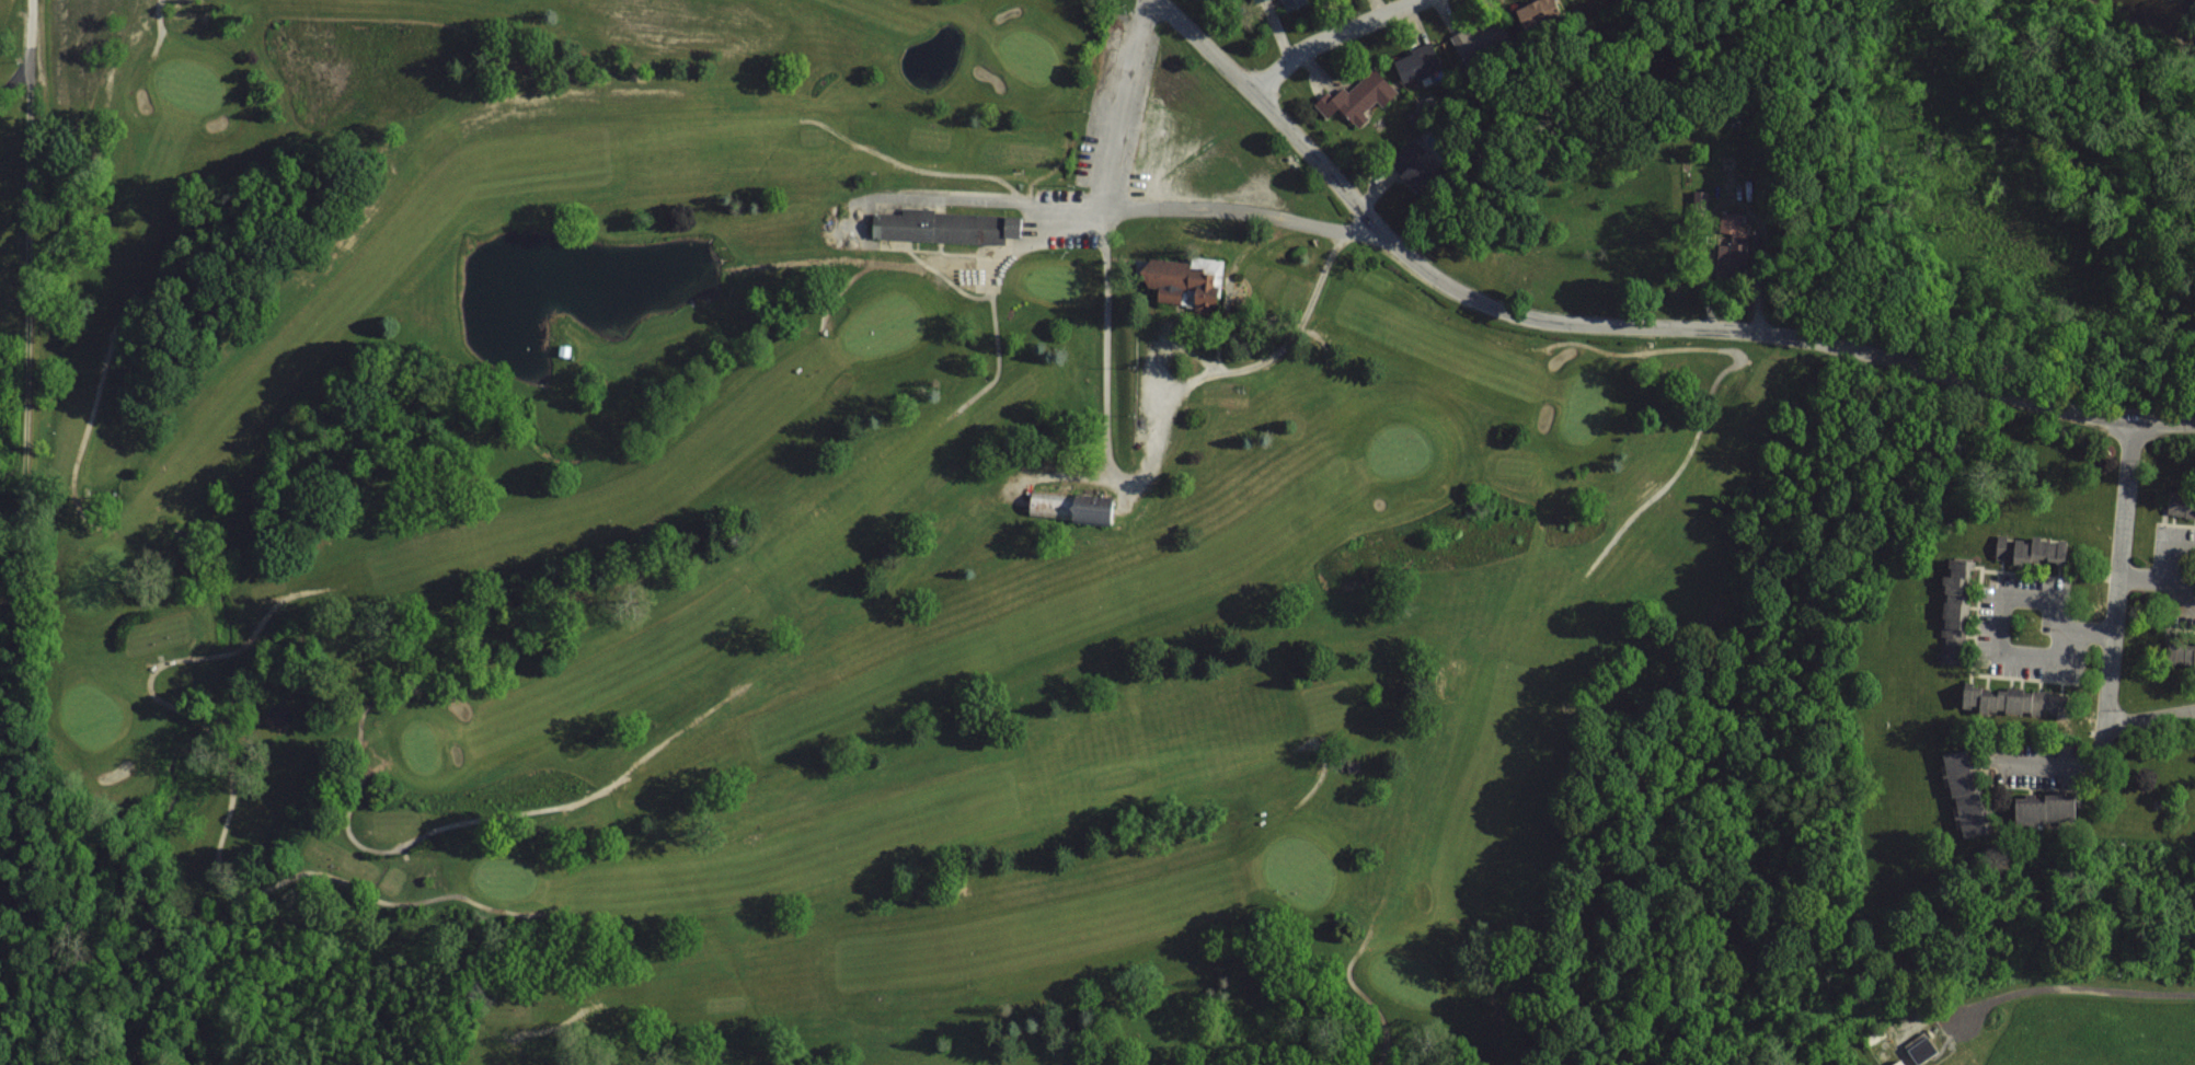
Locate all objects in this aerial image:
building: (1291, 1)
building: (1528, 14)
road: (1329, 35)
building: (1479, 37)
building: (1416, 57)
road: (14, 74)
building: (1358, 96)
road: (1121, 99)
road: (1208, 196)
building: (943, 225)
road: (27, 232)
road: (1299, 312)
road: (1619, 324)
building: (2180, 505)
park: (779, 540)
road: (2176, 543)
road: (2147, 565)
road: (2175, 589)
road: (2004, 592)
building: (1952, 610)
road: (2114, 645)
building: (2179, 653)
building: (1991, 698)
road: (2151, 718)
building: (1953, 773)
road: (2072, 987)
building: (1918, 1050)
building: (1895, 1063)

